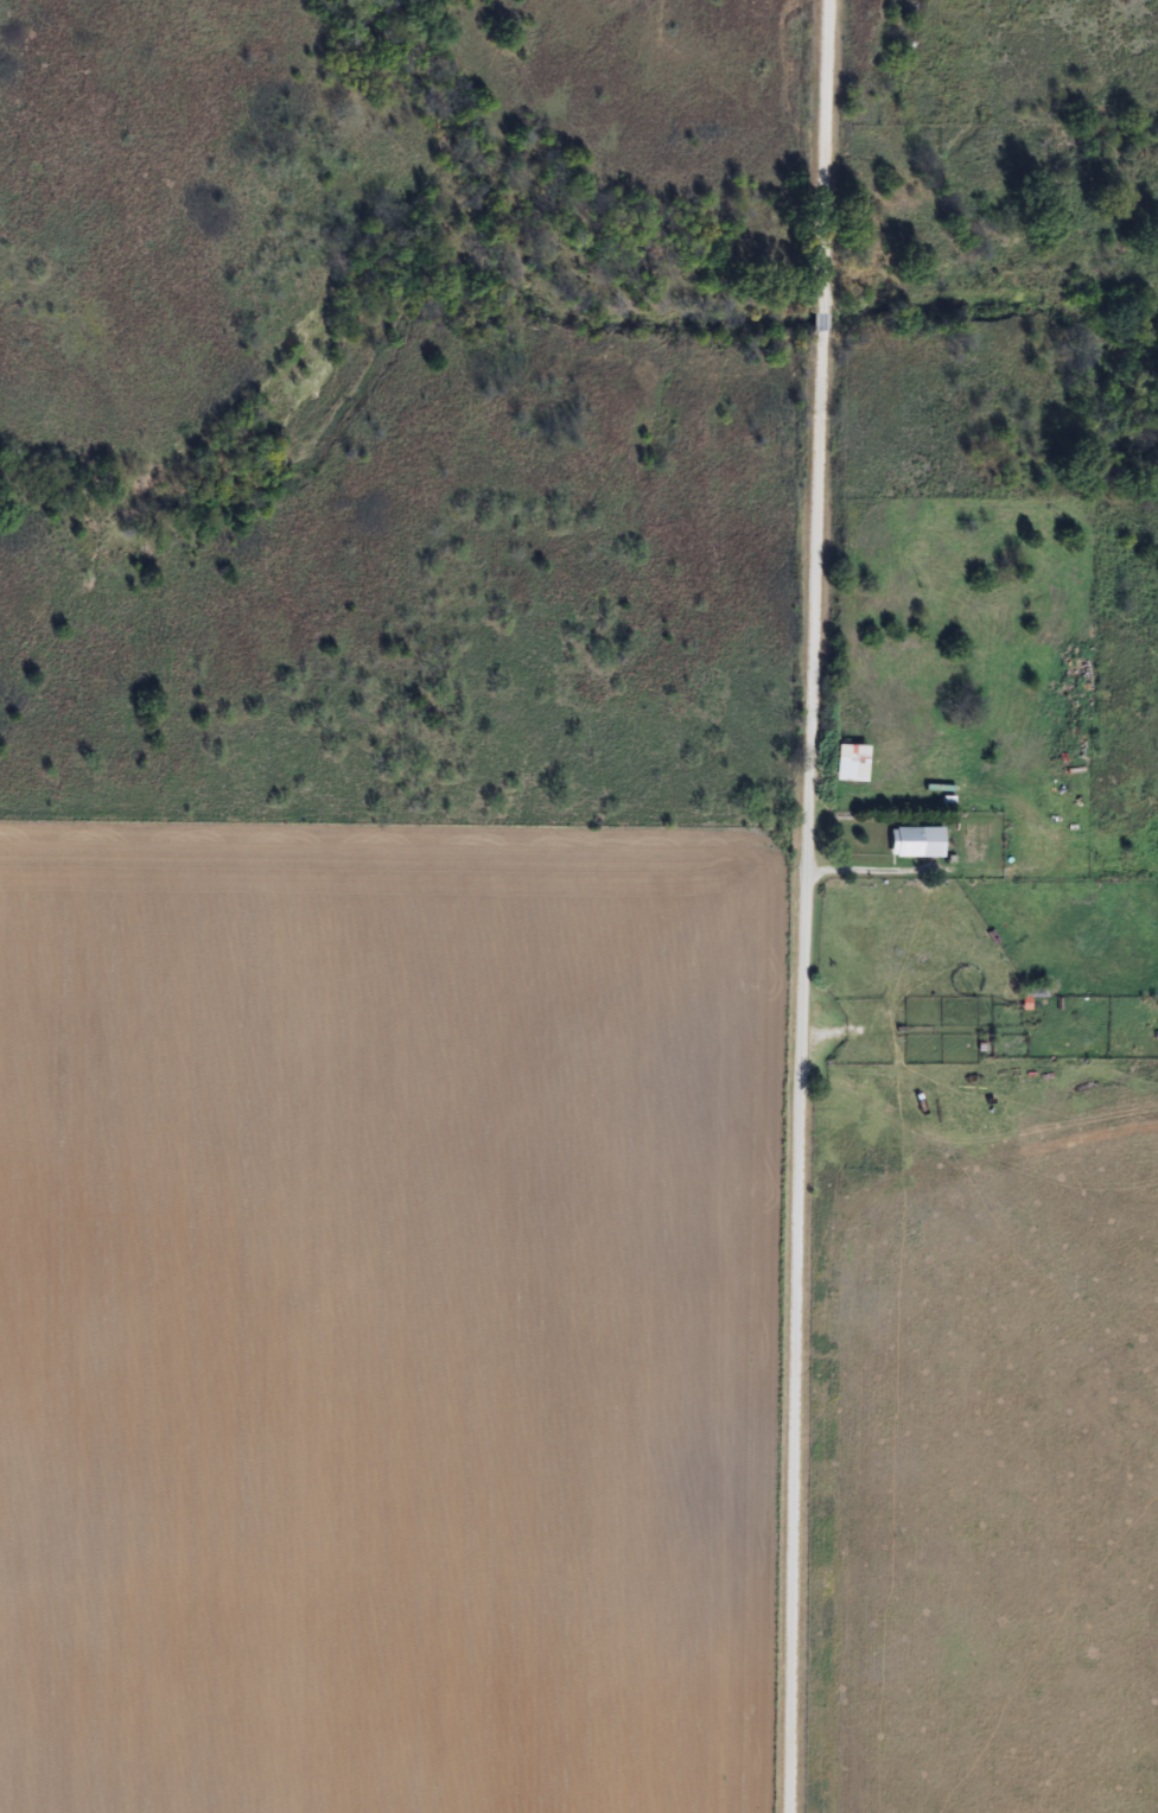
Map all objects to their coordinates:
building: (851, 763)
building: (916, 842)
road: (812, 905)

